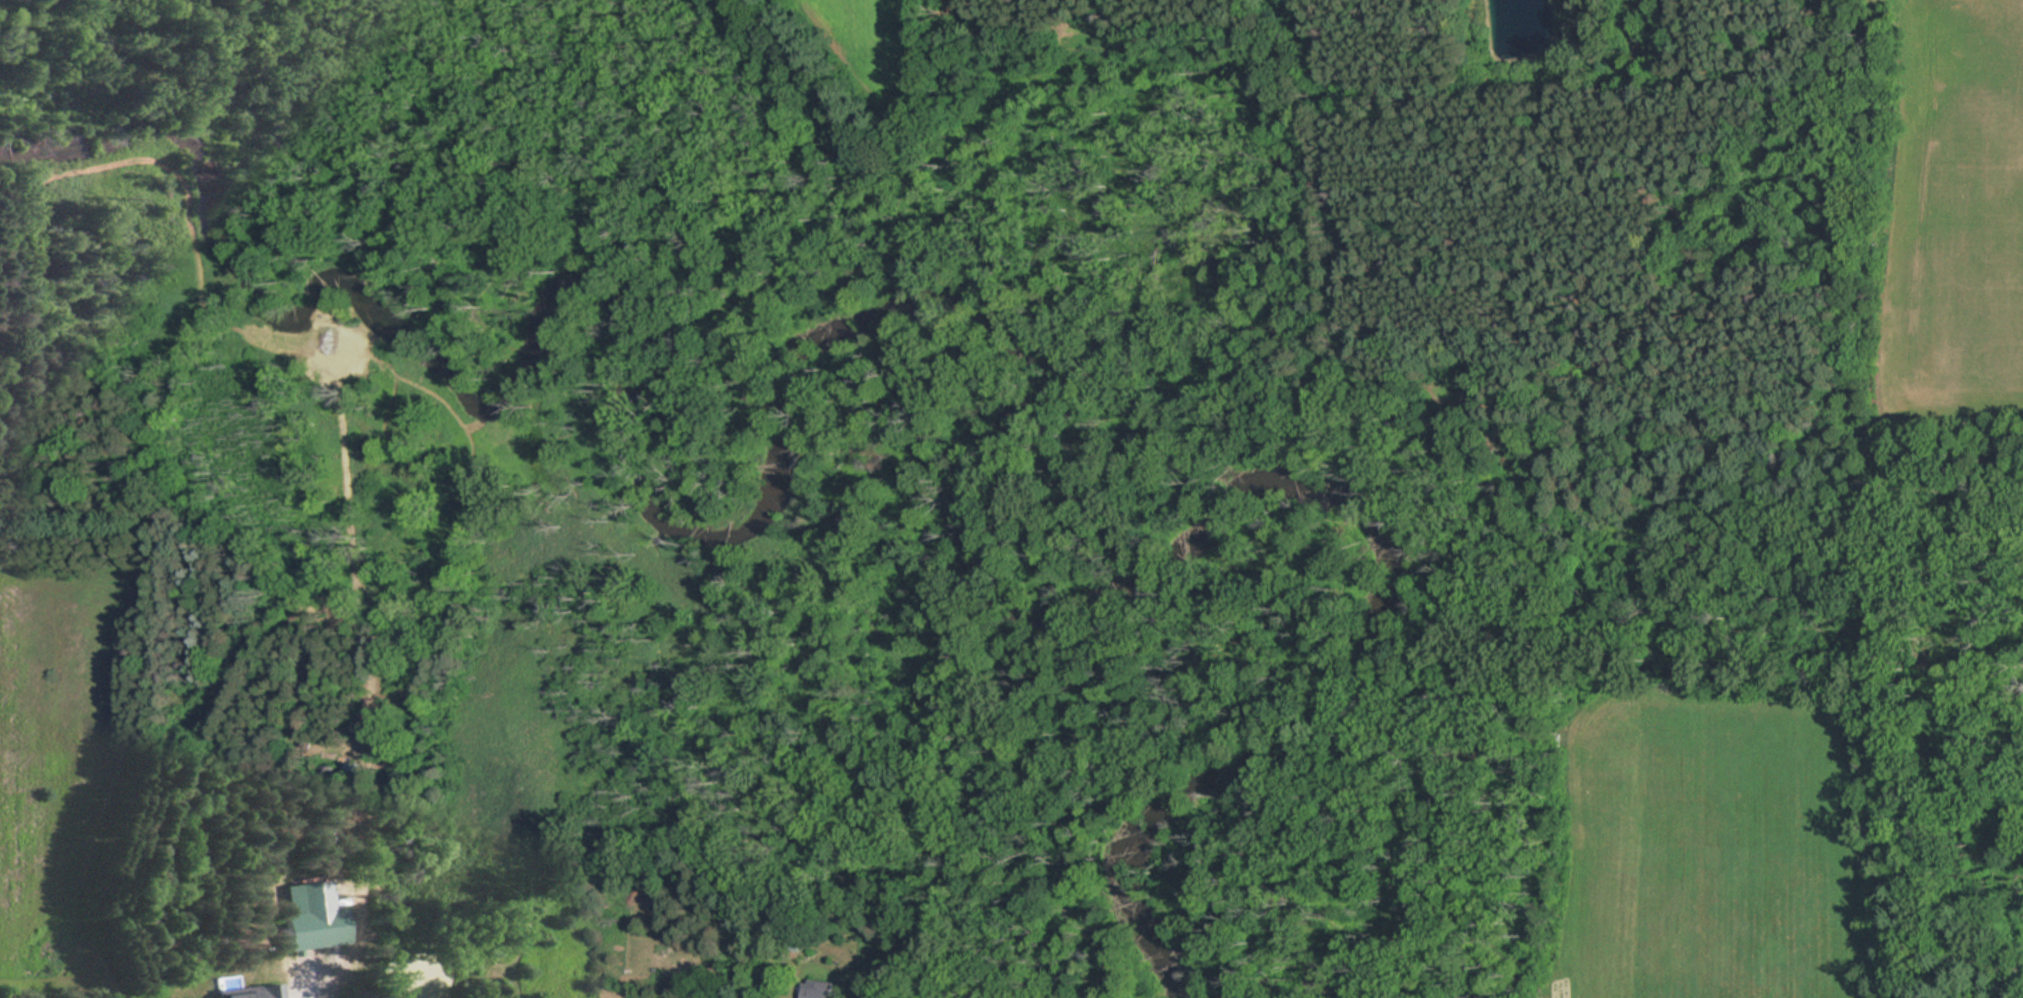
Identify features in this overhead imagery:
road: (1833, 125)
river: (880, 319)
building: (320, 925)
building: (820, 990)
building: (252, 992)
road: (316, 994)

